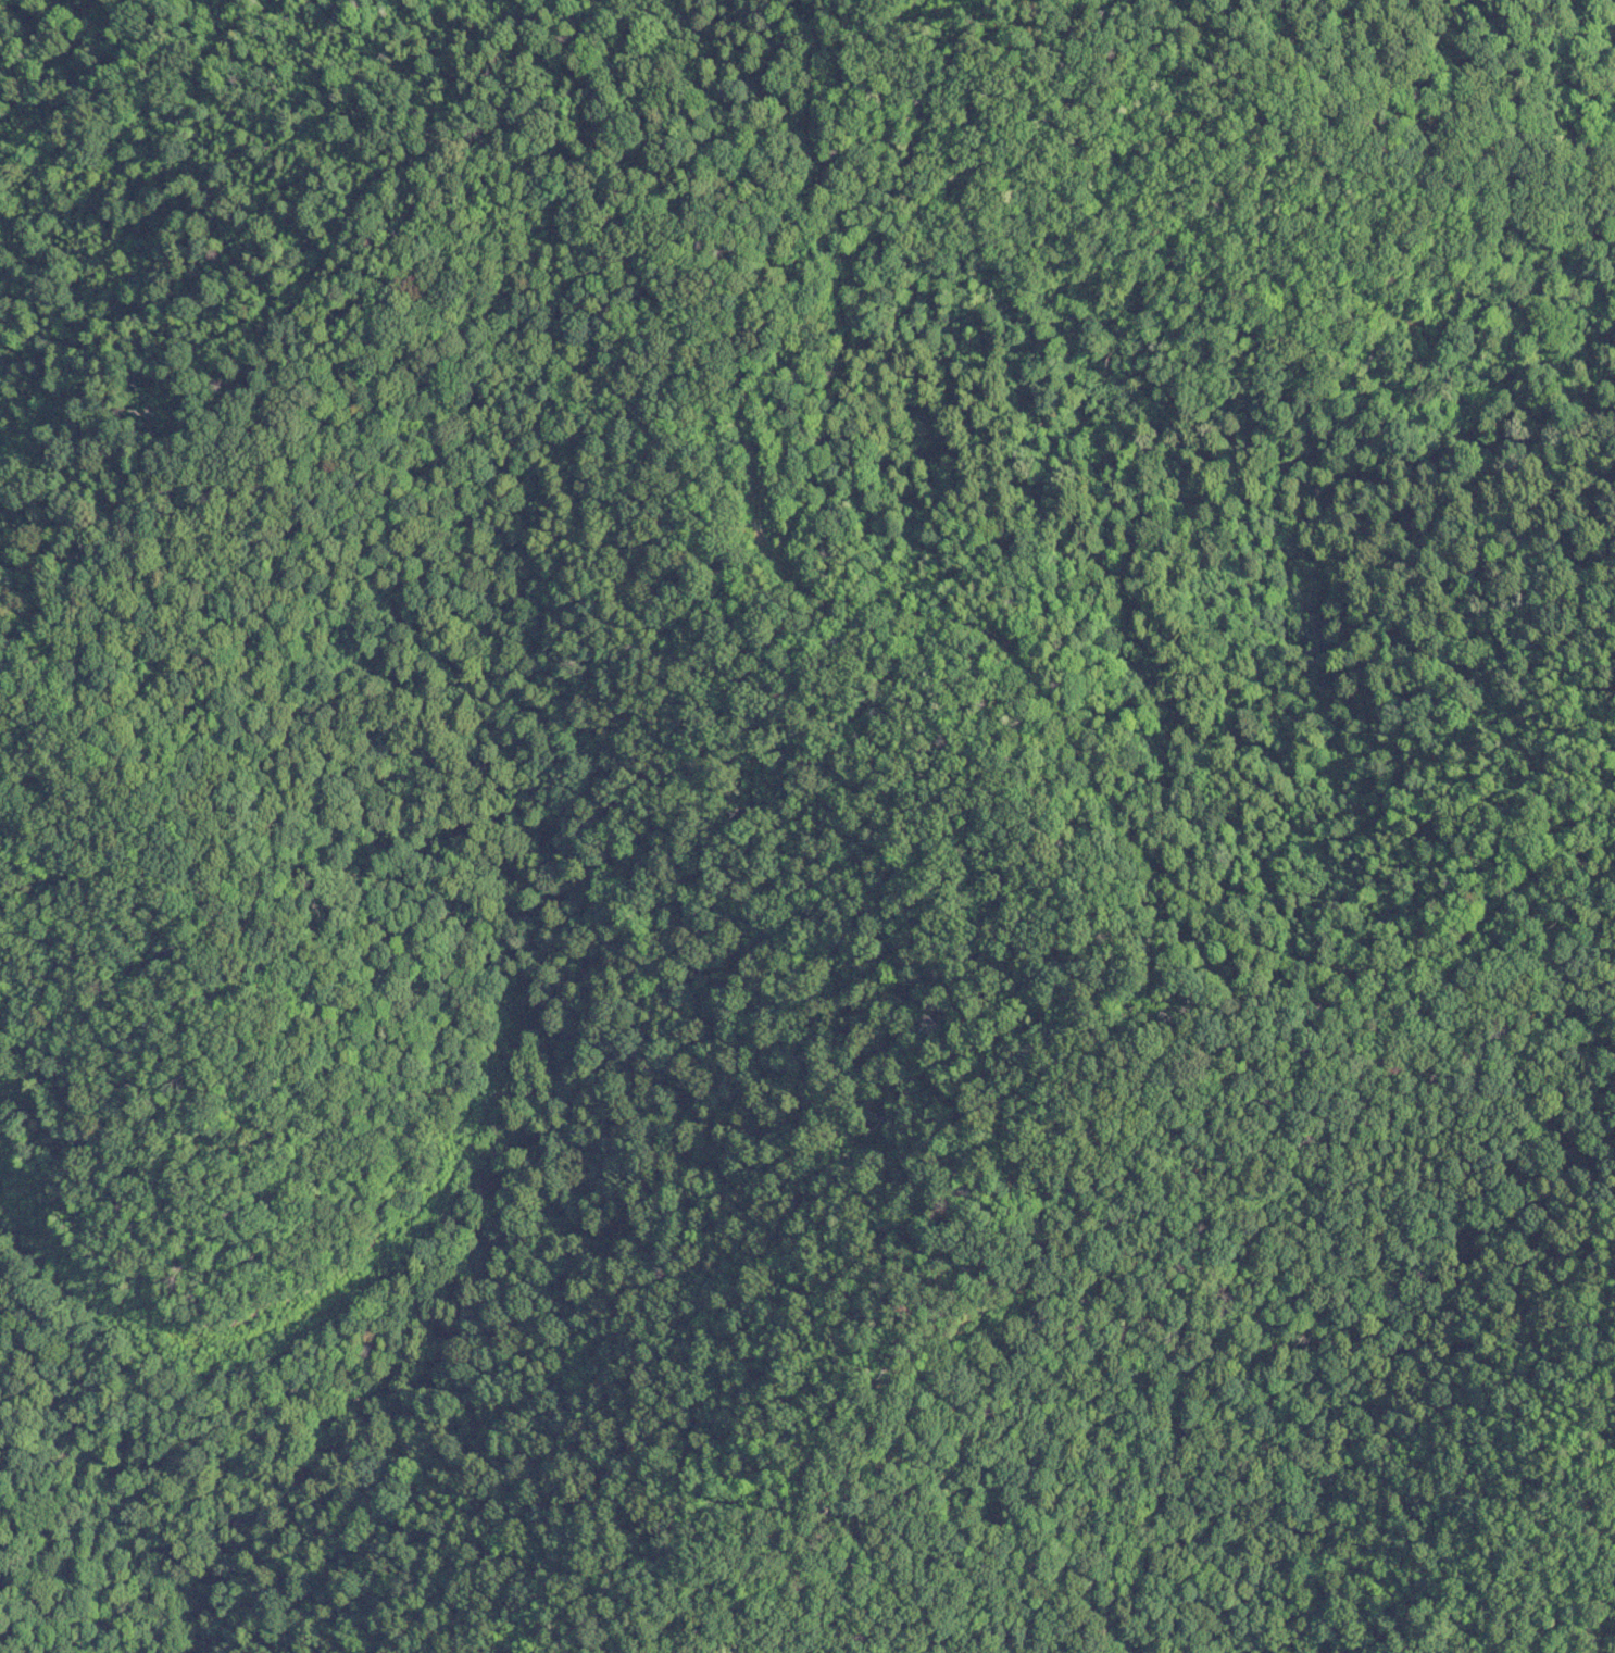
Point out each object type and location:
road: (968, 643)
quarry: (23, 832)

